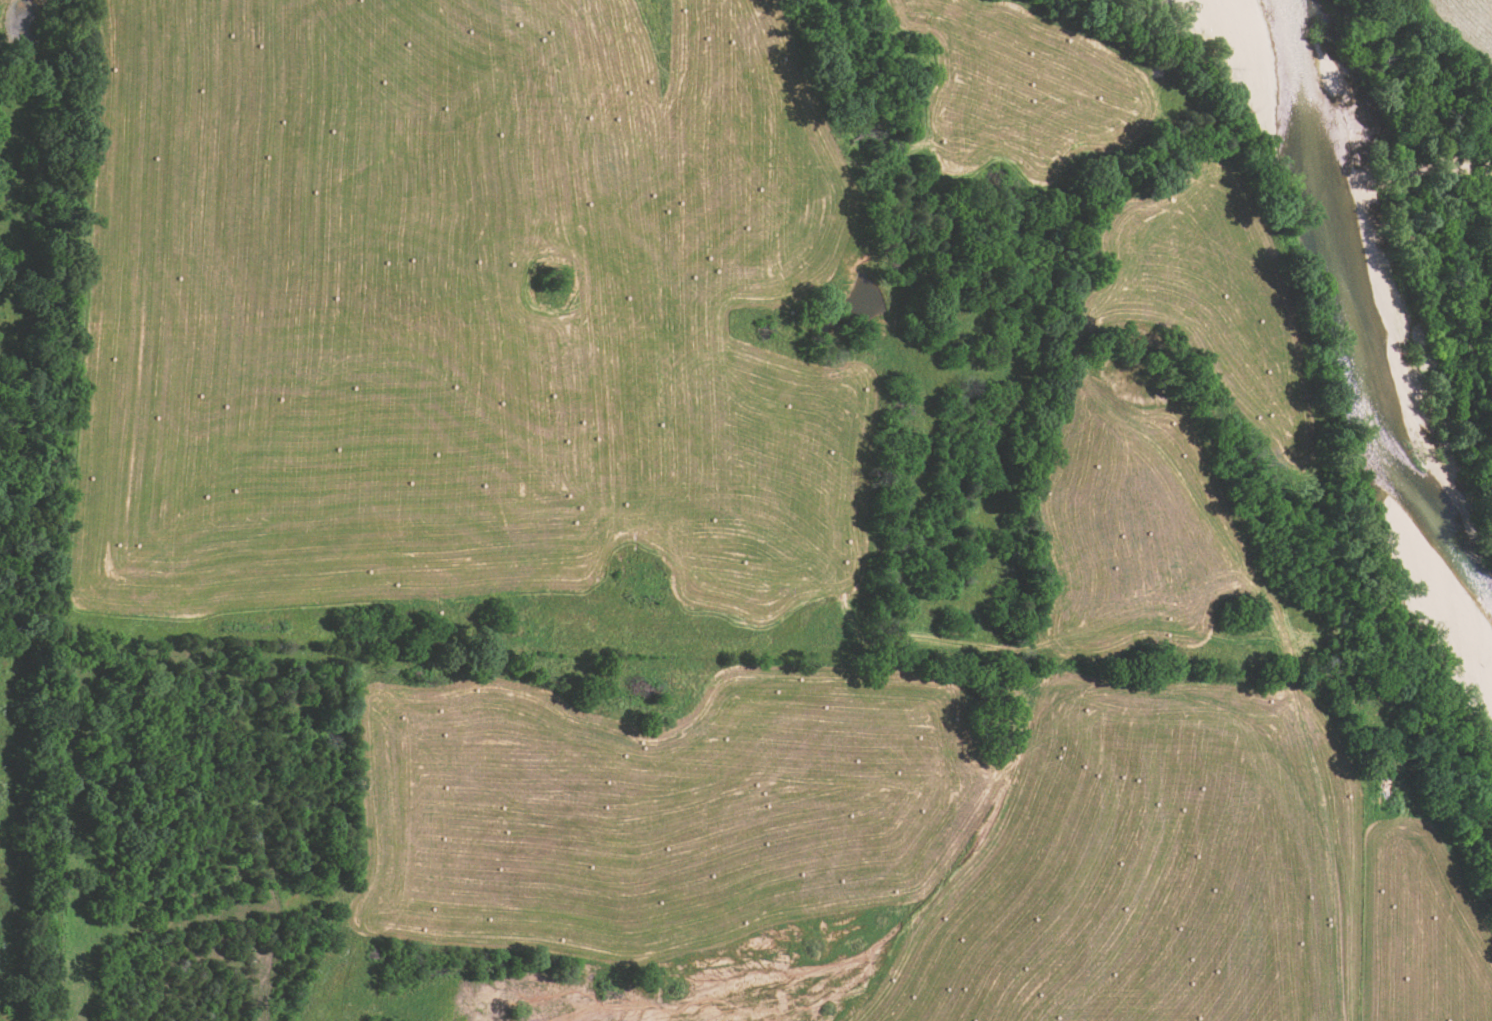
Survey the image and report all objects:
river: (1355, 334)

